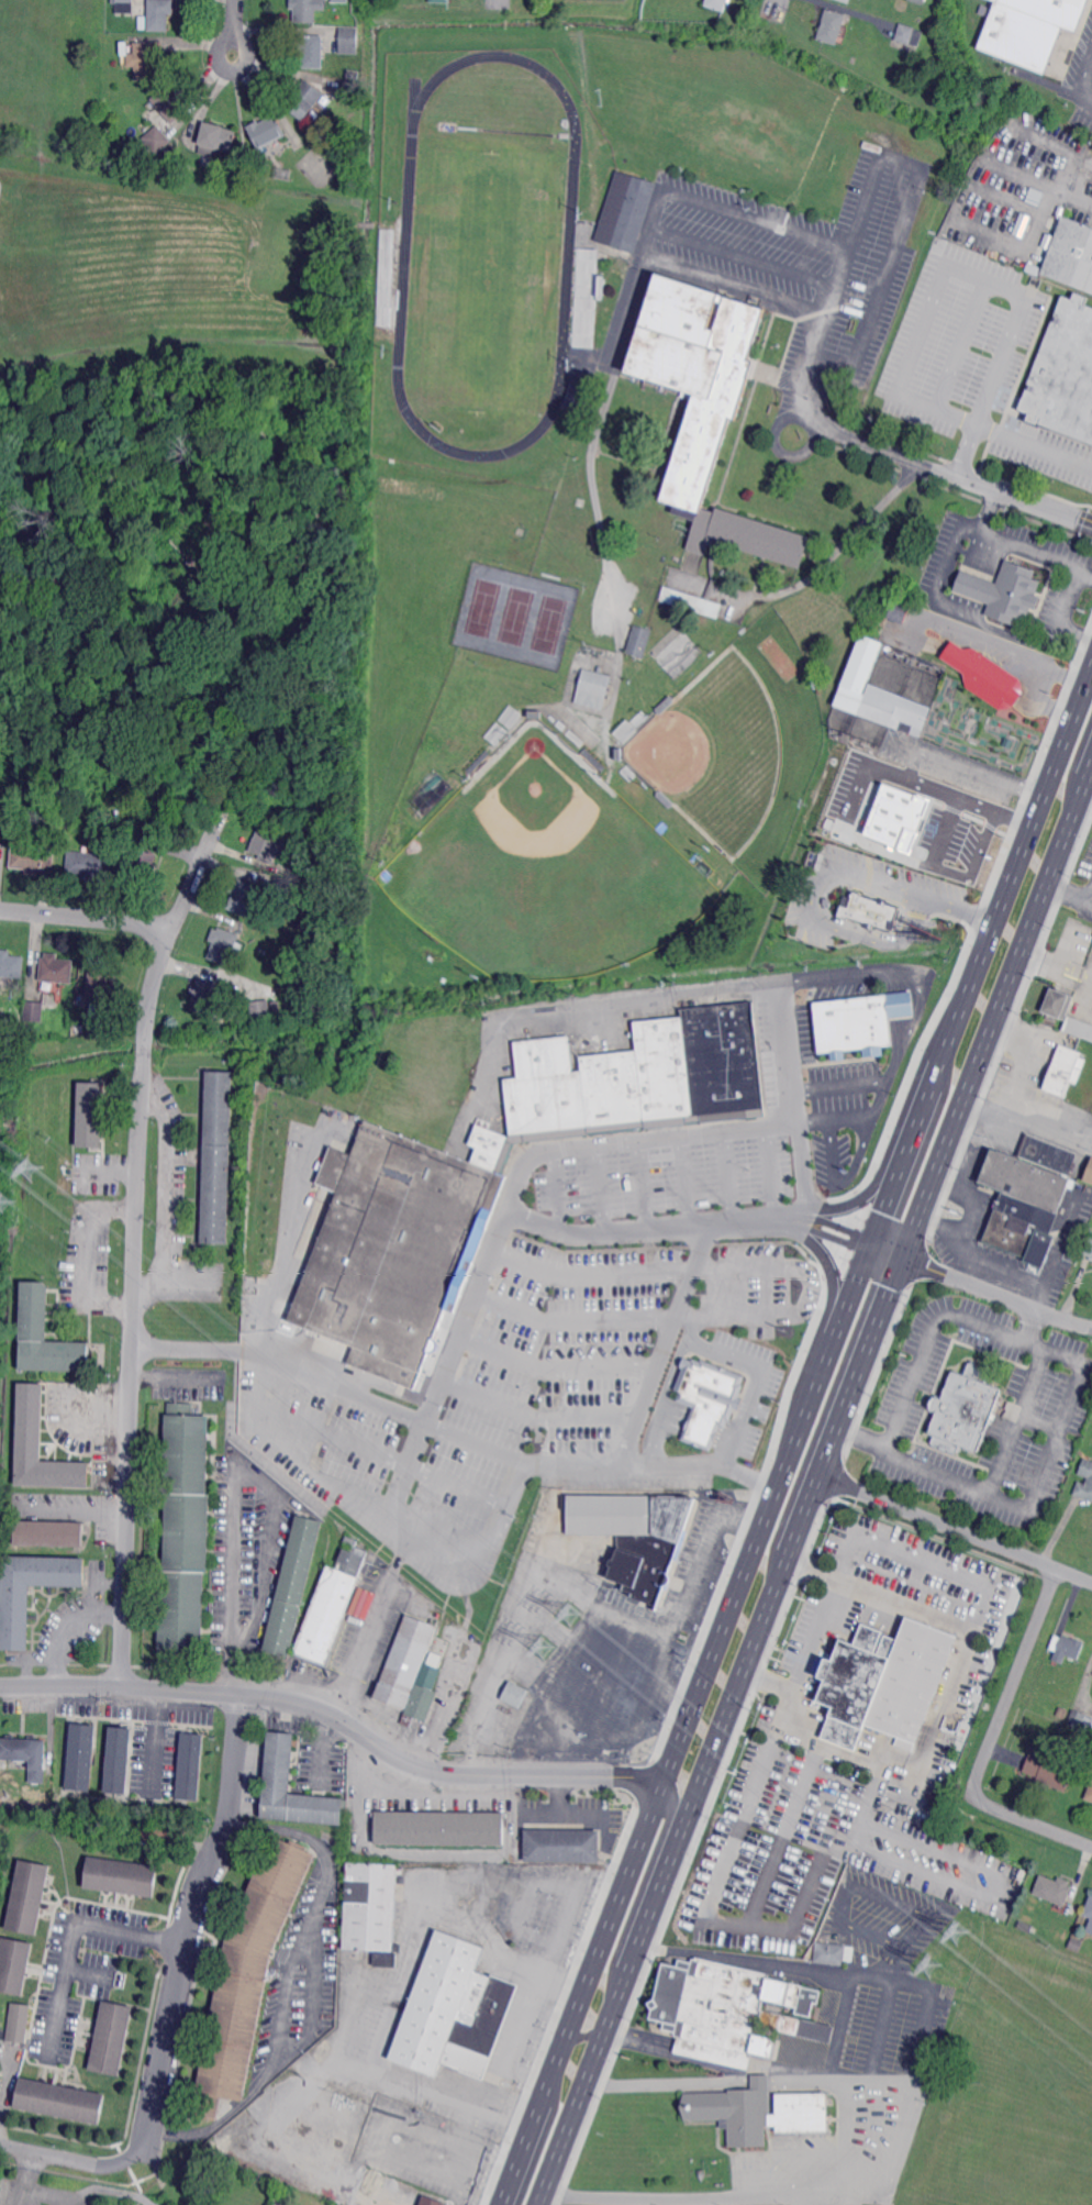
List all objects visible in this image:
building: (341, 0)
building: (442, 0)
road: (498, 1)
building: (847, 1)
building: (376, 2)
building: (925, 2)
building: (717, 3)
building: (124, 7)
road: (776, 7)
building: (304, 10)
building: (155, 14)
building: (832, 26)
road: (232, 27)
building: (1030, 29)
building: (910, 35)
building: (348, 40)
building: (312, 51)
building: (146, 59)
building: (353, 75)
road: (1078, 85)
building: (348, 90)
building: (303, 99)
building: (170, 103)
building: (267, 131)
building: (216, 138)
building: (156, 140)
road: (893, 158)
road: (1074, 199)
building: (626, 211)
road: (653, 222)
track: (404, 251)
building: (1071, 254)
road: (746, 256)
road: (946, 272)
building: (385, 276)
park: (486, 281)
building: (600, 286)
road: (625, 312)
building: (1063, 372)
building: (576, 399)
building: (706, 413)
road: (806, 419)
road: (1005, 433)
road: (948, 474)
road: (594, 494)
road: (1029, 546)
road: (947, 555)
building: (1003, 592)
road: (1077, 598)
park: (481, 607)
building: (900, 611)
park: (515, 614)
park: (548, 623)
road: (995, 628)
road: (1079, 632)
building: (638, 641)
building: (672, 647)
building: (686, 661)
road: (1068, 672)
building: (906, 674)
building: (985, 676)
building: (592, 689)
building: (878, 694)
road: (1041, 701)
building: (665, 705)
building: (536, 713)
park: (715, 752)
building: (619, 754)
building: (593, 760)
building: (478, 762)
building: (868, 783)
building: (664, 800)
road: (902, 811)
building: (896, 817)
building: (129, 839)
building: (269, 845)
building: (954, 845)
building: (32, 858)
building: (142, 863)
building: (89, 864)
park: (545, 868)
building: (286, 871)
building: (286, 891)
building: (245, 896)
road: (809, 905)
road: (966, 908)
building: (868, 910)
road: (87, 918)
building: (224, 945)
building: (11, 964)
road: (893, 965)
building: (55, 968)
road: (1055, 969)
building: (100, 982)
building: (225, 994)
building: (203, 995)
building: (53, 998)
building: (275, 1005)
building: (1058, 1005)
road: (597, 1006)
road: (1087, 1007)
building: (260, 1009)
building: (33, 1015)
road: (956, 1016)
building: (859, 1023)
building: (1079, 1027)
road: (989, 1032)
road: (1023, 1066)
building: (1066, 1071)
road: (836, 1084)
building: (91, 1115)
road: (1024, 1119)
road: (679, 1133)
building: (218, 1157)
power tower: (29, 1164)
road: (107, 1170)
building: (1089, 1173)
building: (497, 1177)
road: (168, 1187)
building: (1029, 1197)
road: (972, 1198)
power tower: (4, 1200)
road: (802, 1212)
road: (840, 1225)
road: (136, 1239)
traffic signals: (871, 1242)
building: (1089, 1249)
road: (977, 1250)
road: (88, 1254)
road: (278, 1257)
traffic signals: (904, 1257)
road: (980, 1286)
building: (45, 1336)
road: (929, 1337)
parking lot: (534, 1342)
road: (661, 1343)
road: (711, 1347)
road: (188, 1351)
road: (335, 1384)
building: (707, 1399)
building: (963, 1409)
gas station: (603, 1410)
parking lot: (984, 1410)
building: (41, 1445)
road: (287, 1459)
road: (234, 1474)
road: (999, 1474)
road: (404, 1475)
building: (1090, 1478)
parking lot: (627, 1480)
road: (70, 1510)
building: (185, 1529)
road: (956, 1529)
building: (47, 1533)
building: (634, 1533)
road: (790, 1553)
road: (745, 1566)
building: (292, 1585)
road: (688, 1593)
road: (879, 1594)
building: (333, 1604)
road: (108, 1613)
power tower: (571, 1613)
building: (15, 1618)
road: (83, 1618)
road: (367, 1627)
road: (807, 1633)
power tower: (545, 1648)
building: (1068, 1649)
building: (410, 1672)
building: (884, 1683)
building: (513, 1693)
road: (567, 1699)
building: (1062, 1711)
road: (337, 1717)
road: (937, 1719)
building: (1080, 1720)
road: (793, 1727)
road: (991, 1740)
building: (945, 1750)
building: (26, 1755)
building: (81, 1758)
building: (119, 1760)
building: (277, 1763)
building: (189, 1766)
building: (1049, 1769)
road: (448, 1785)
building: (2, 1793)
building: (1090, 1793)
road: (455, 1796)
road: (580, 1810)
road: (261, 1827)
building: (438, 1828)
building: (155, 1831)
building: (561, 1846)
building: (119, 1876)
road: (857, 1886)
building: (1054, 1891)
building: (26, 1897)
building: (370, 1907)
building: (1089, 1908)
power tower: (956, 1929)
road: (189, 1930)
road: (69, 1933)
building: (1074, 1944)
building: (831, 1953)
road: (731, 1957)
building: (387, 1960)
road: (889, 1961)
building: (13, 1964)
power tower: (929, 1965)
building: (246, 1974)
road: (404, 1974)
road: (570, 1975)
road: (583, 1981)
road: (286, 1984)
road: (920, 1985)
building: (722, 2002)
road: (614, 2007)
building: (455, 2012)
building: (16, 2023)
building: (795, 2025)
road: (840, 2026)
road: (880, 2027)
road: (516, 2034)
building: (110, 2038)
road: (640, 2038)
building: (712, 2051)
road: (711, 2056)
road: (784, 2071)
road: (881, 2077)
road: (805, 2080)
road: (759, 2081)
road: (668, 2082)
road: (10, 2083)
building: (1, 2087)
building: (57, 2099)
road: (510, 2105)
building: (756, 2110)
road: (504, 2118)
road: (842, 2131)
road: (905, 2131)
road: (870, 2134)
road: (171, 2135)
road: (63, 2156)
road: (712, 2196)
building: (432, 2201)

